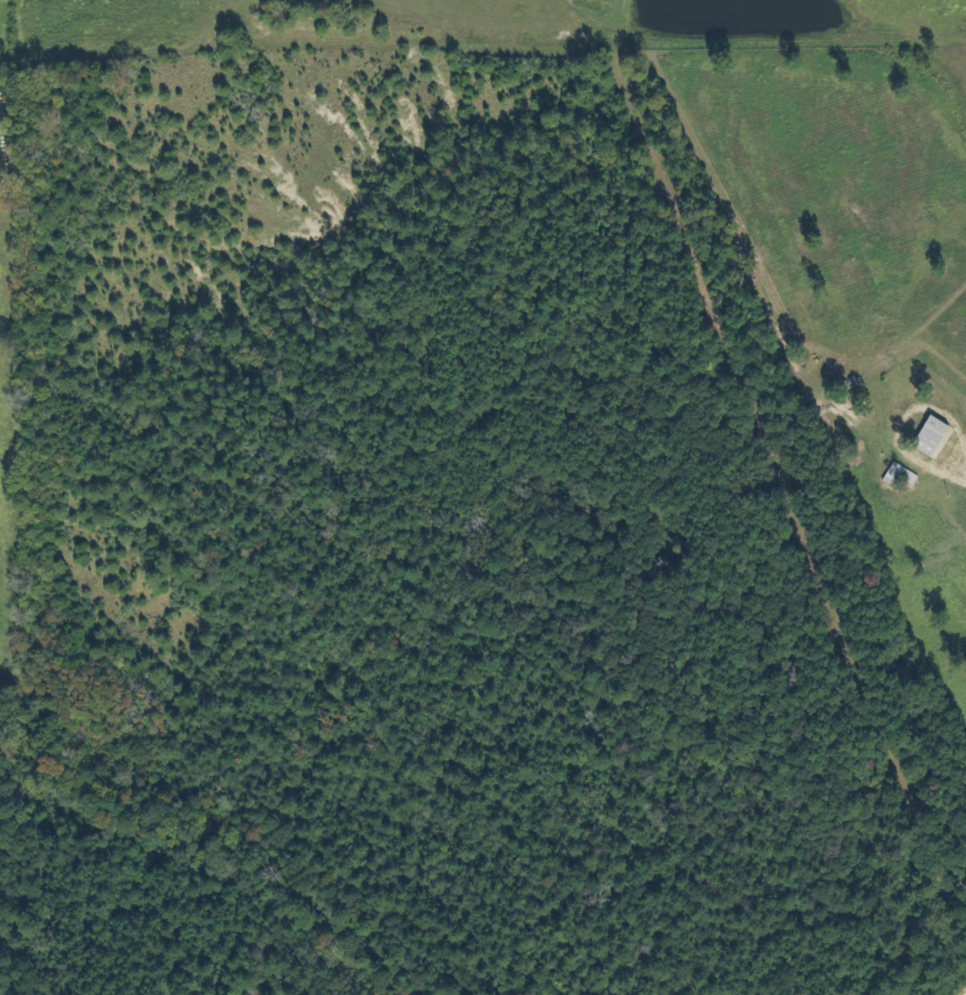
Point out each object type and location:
building: (924, 435)

